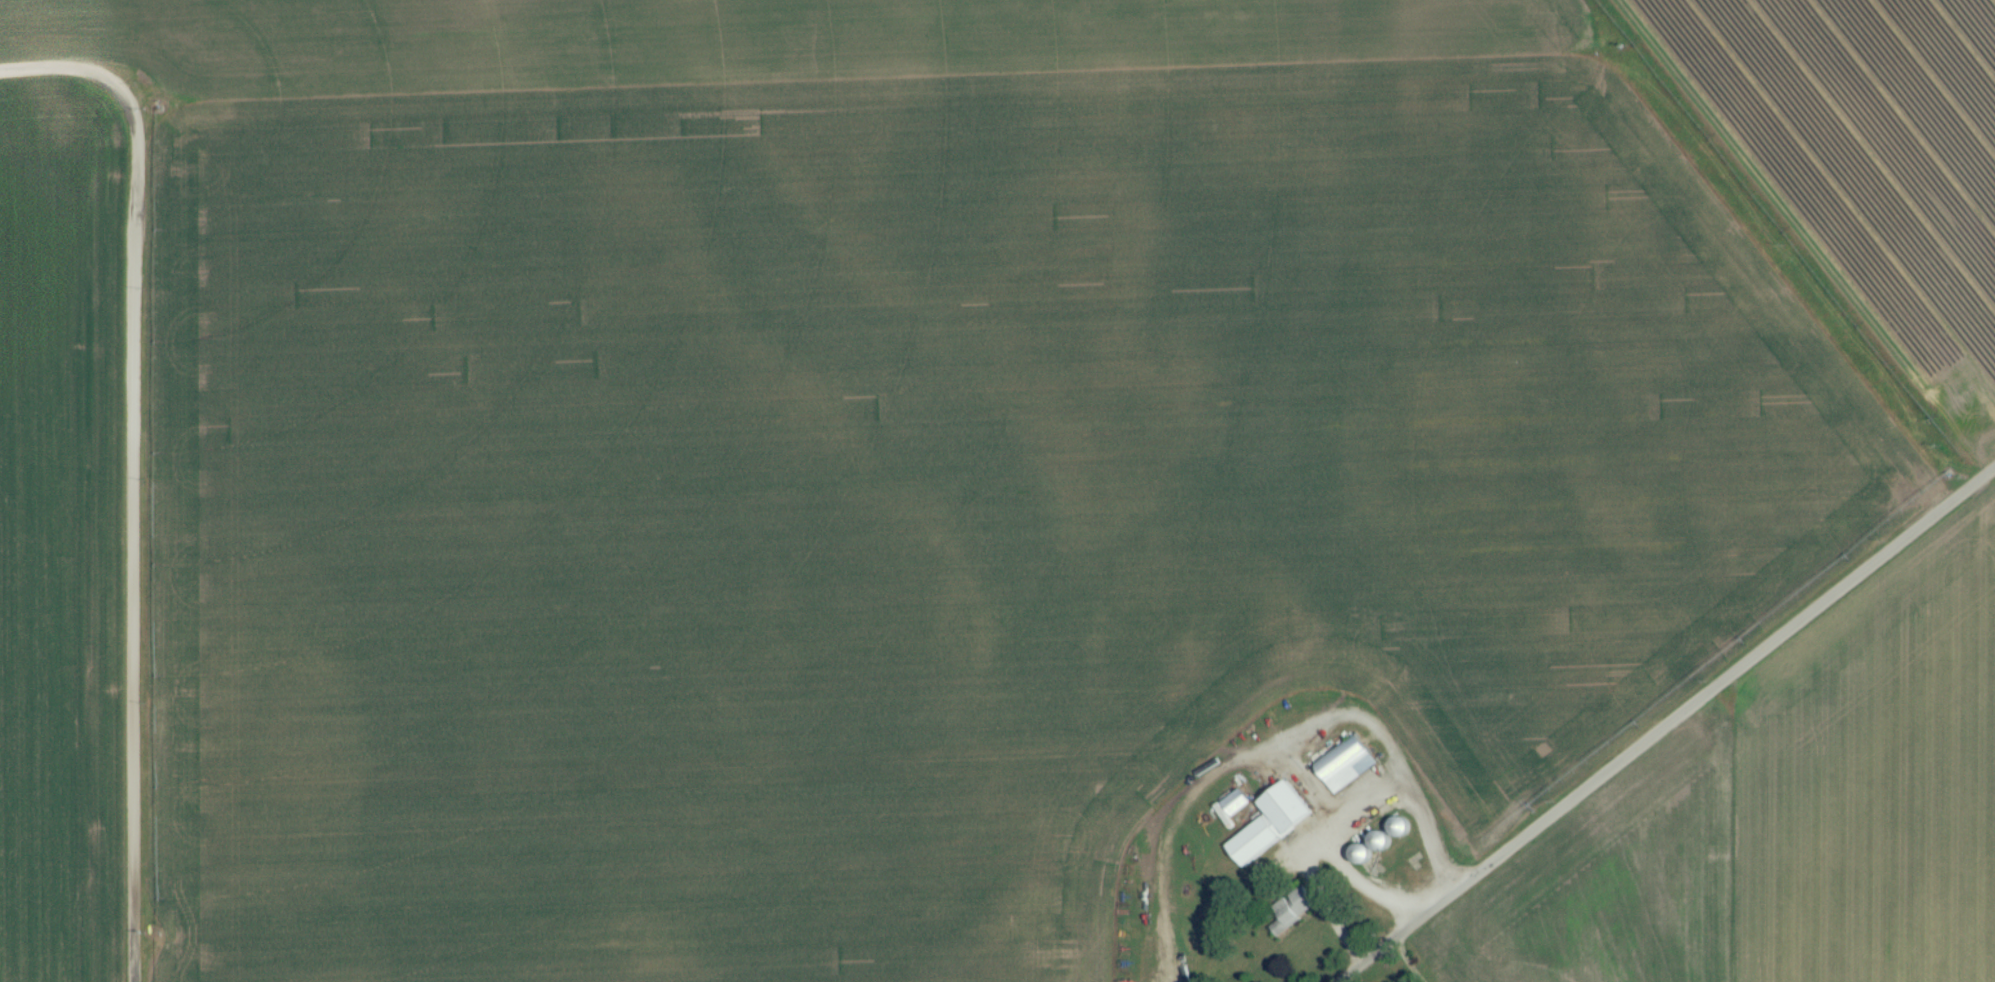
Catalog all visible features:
road: (134, 471)
road: (1669, 728)
building: (1345, 771)
road: (1344, 820)
building: (1270, 831)
road: (1363, 889)
building: (1293, 917)

